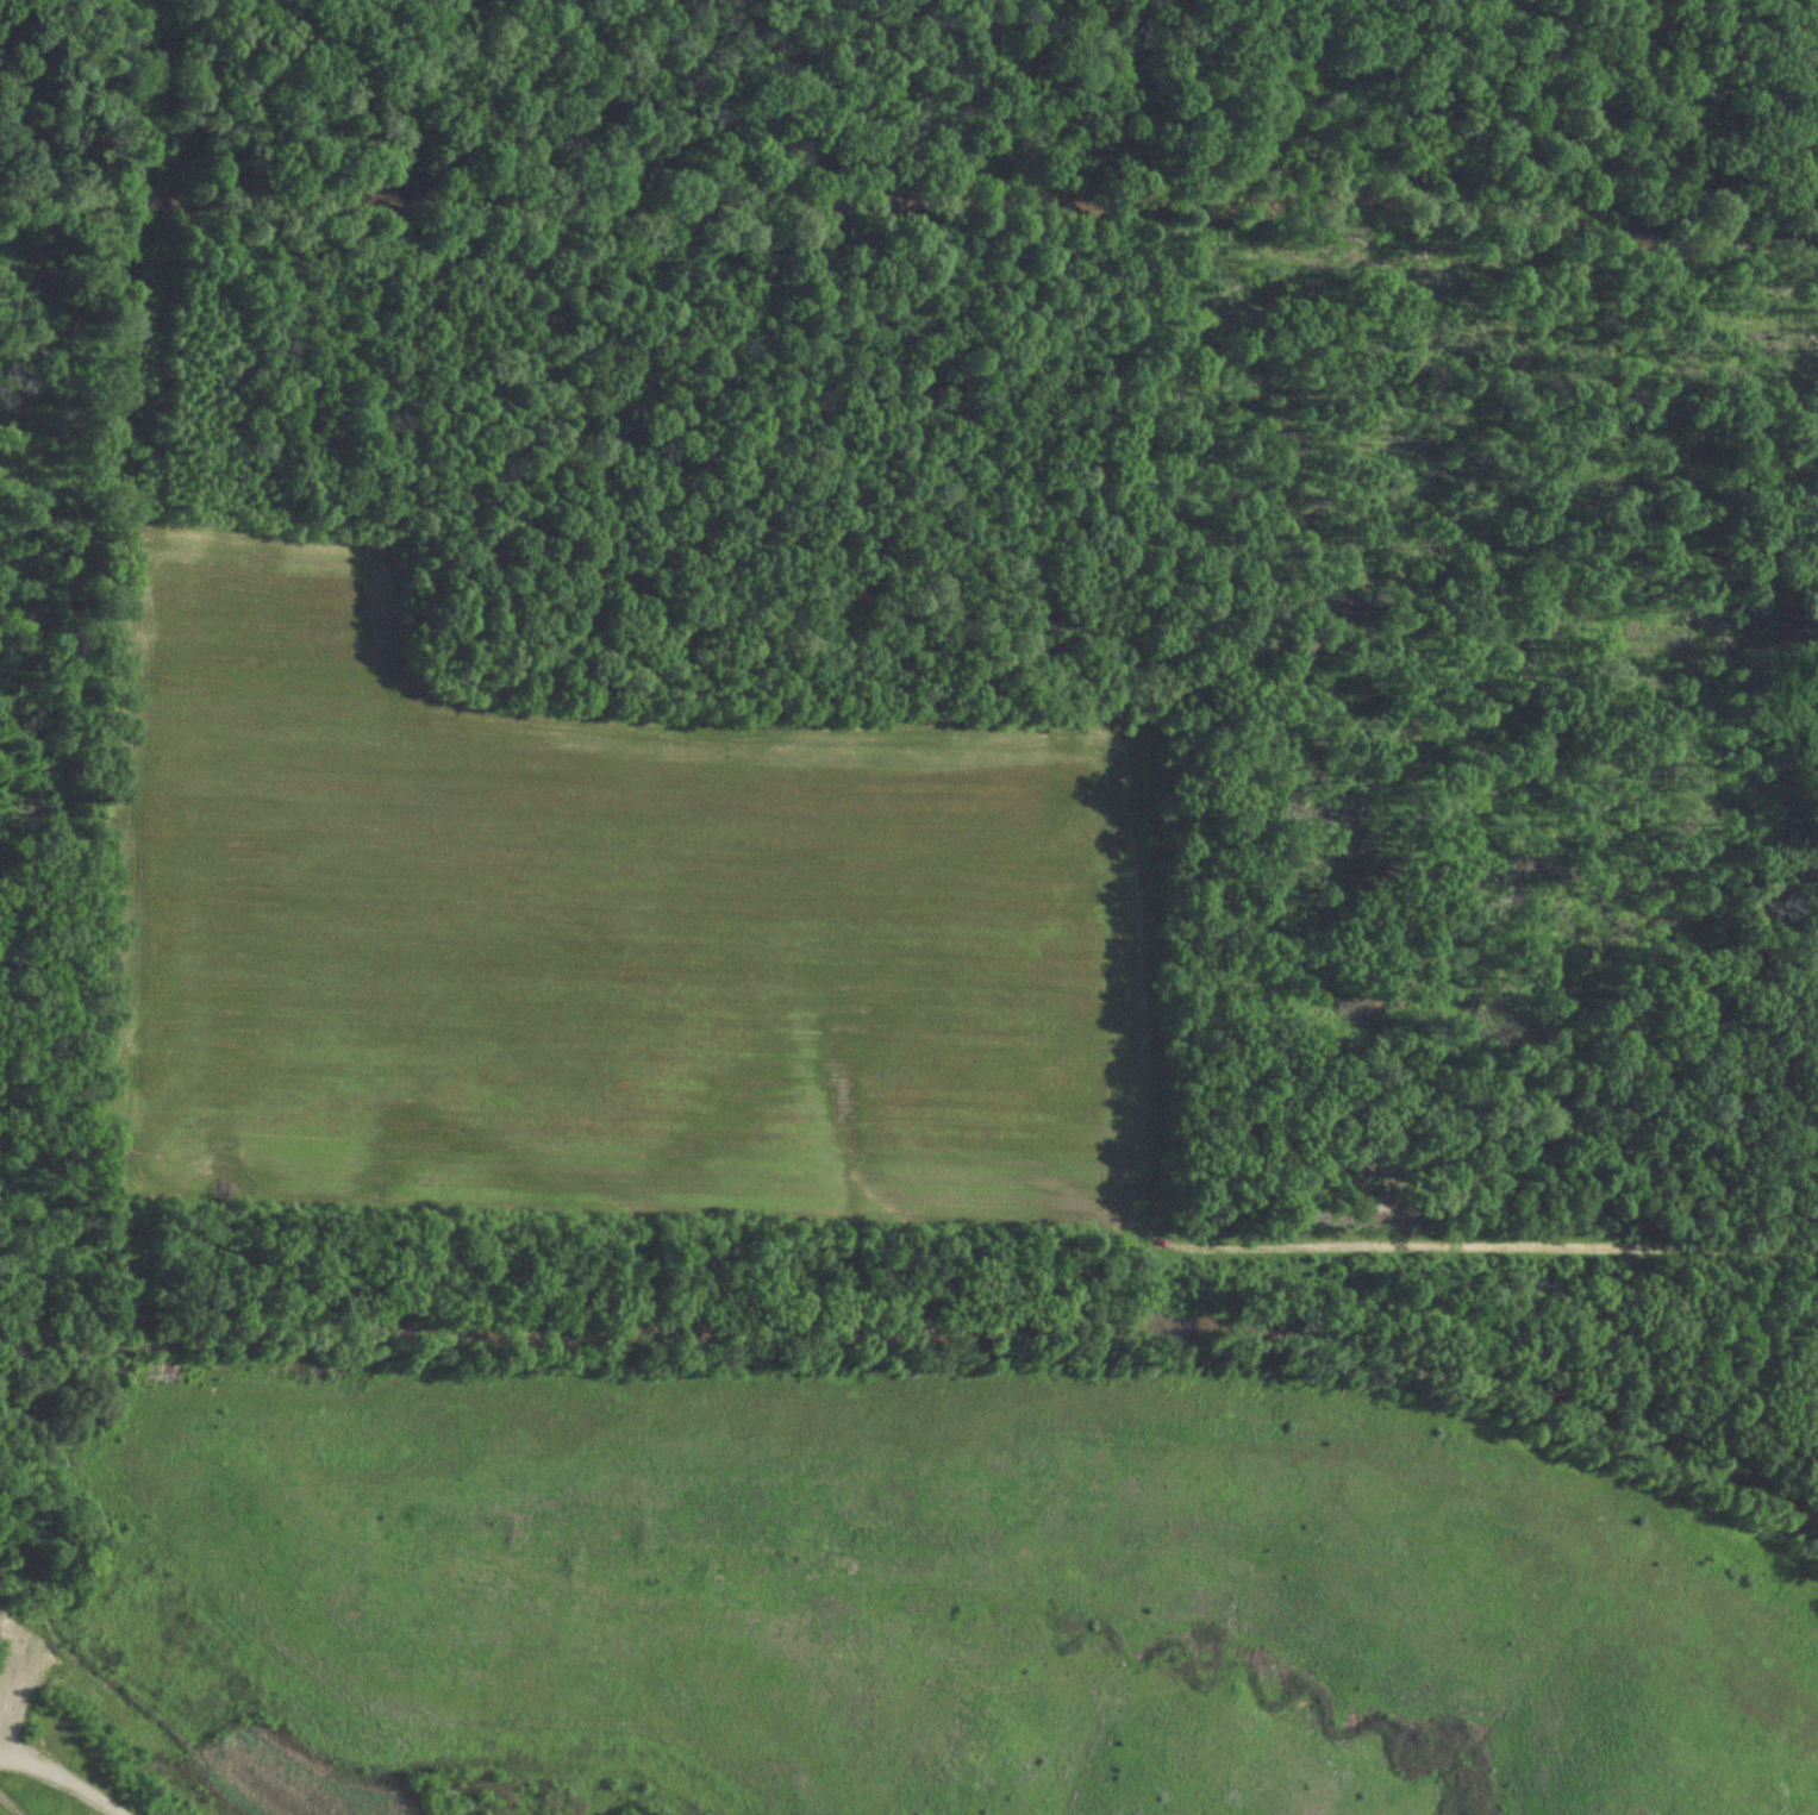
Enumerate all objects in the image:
road: (64, 1780)

